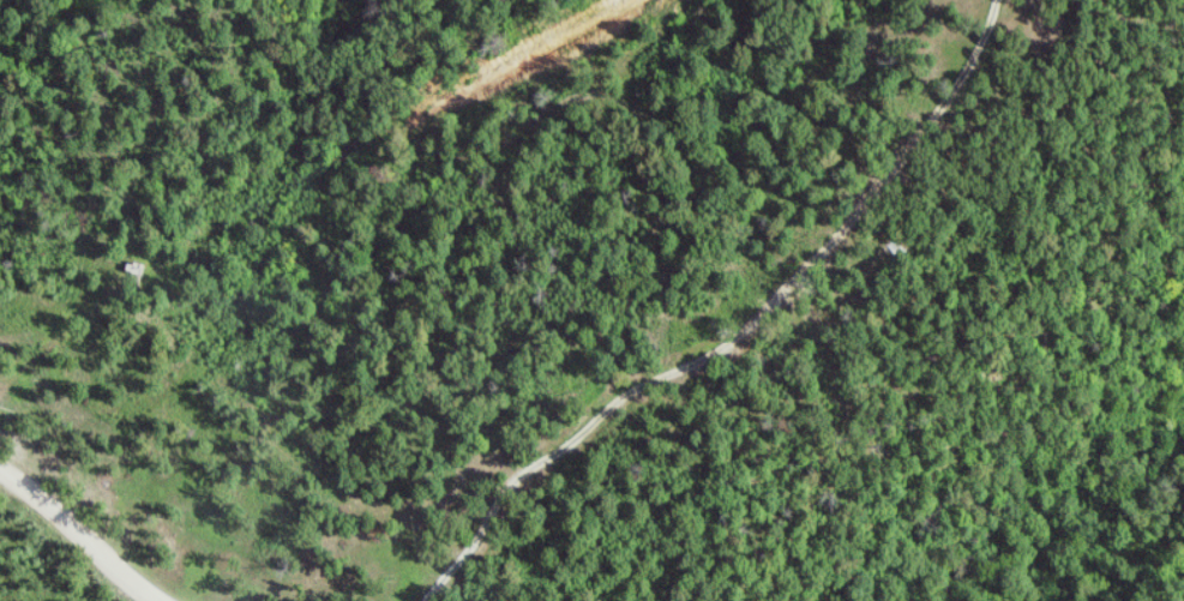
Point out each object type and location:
road: (709, 357)
road: (79, 534)

